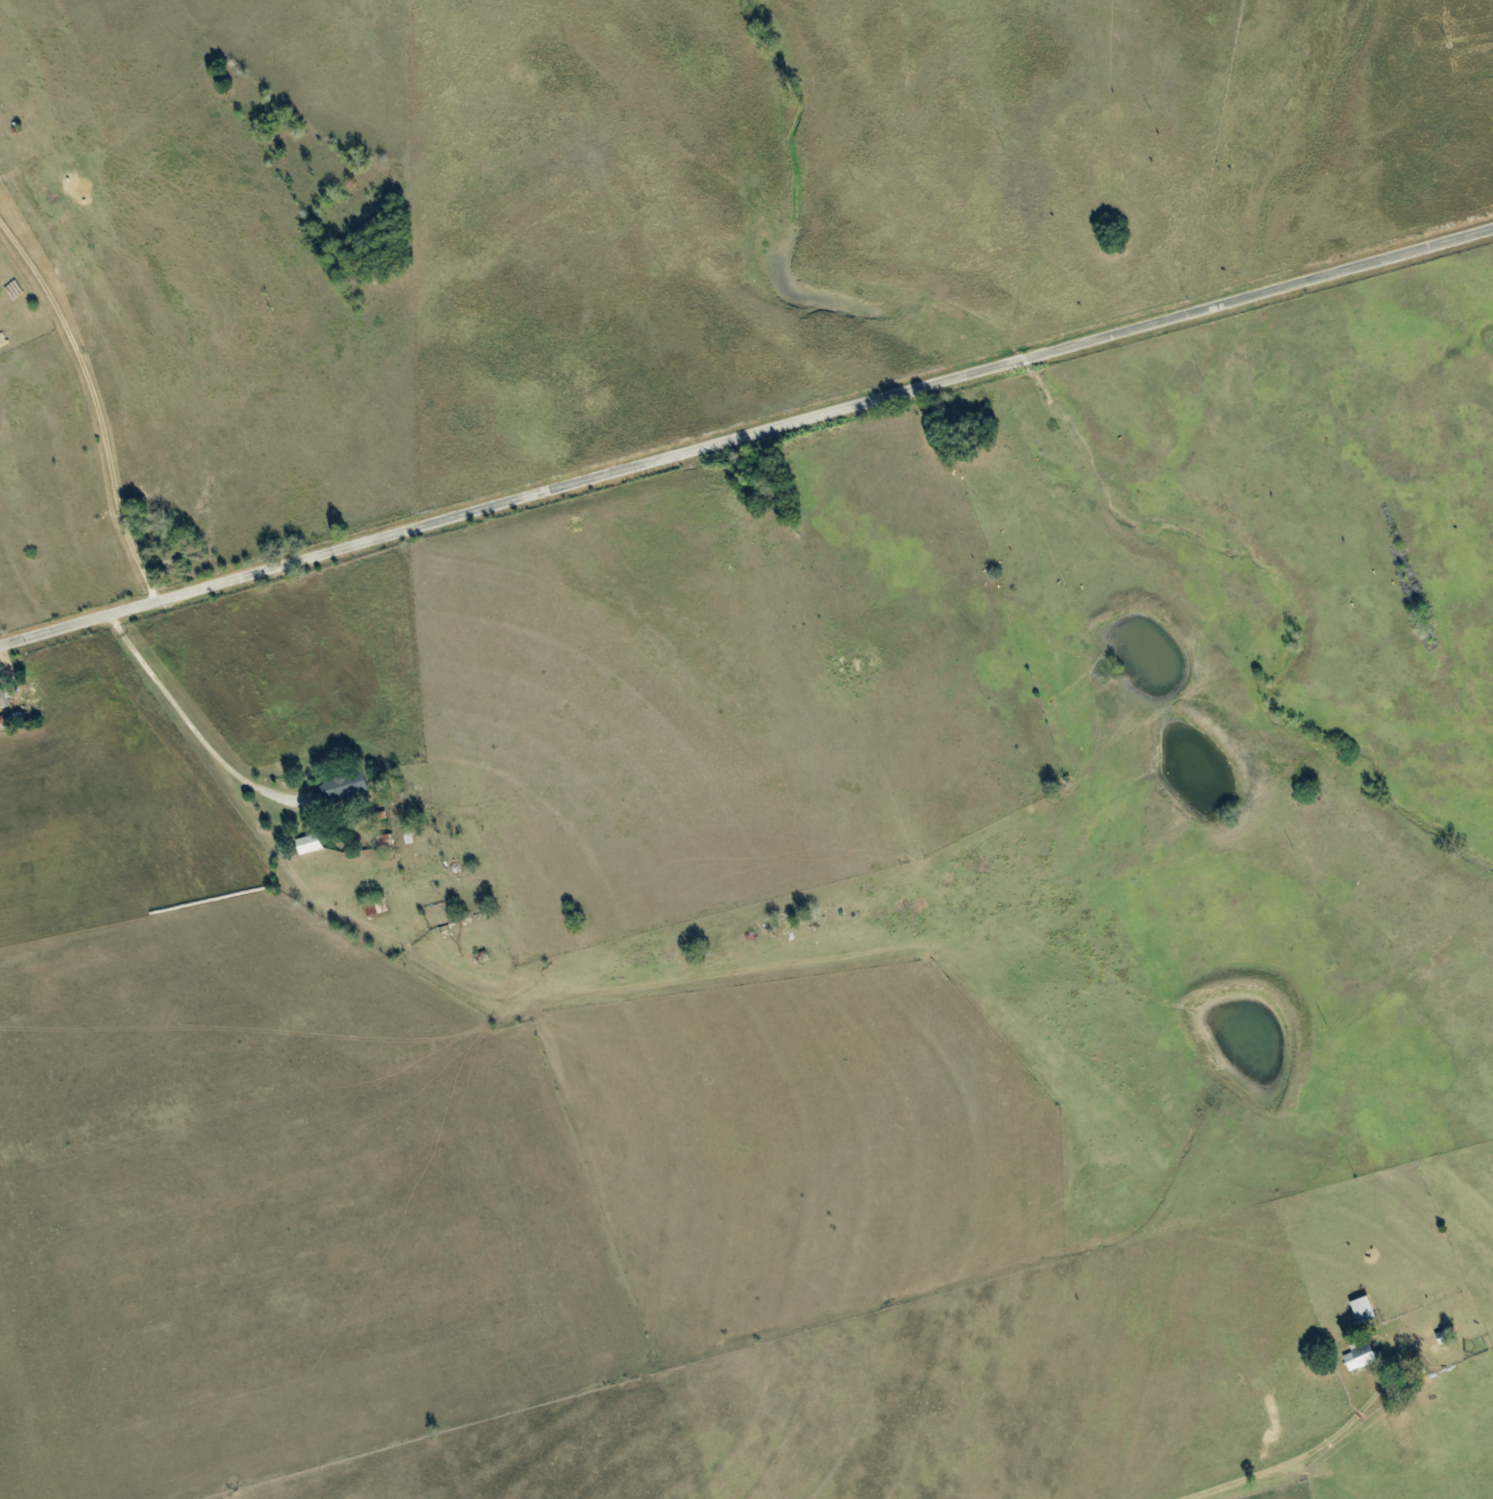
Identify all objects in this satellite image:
road: (92, 406)
road: (745, 433)
building: (2, 700)
road: (198, 736)
building: (345, 787)
building: (309, 844)
building: (1363, 1309)
building: (1360, 1357)
road: (1295, 1457)

